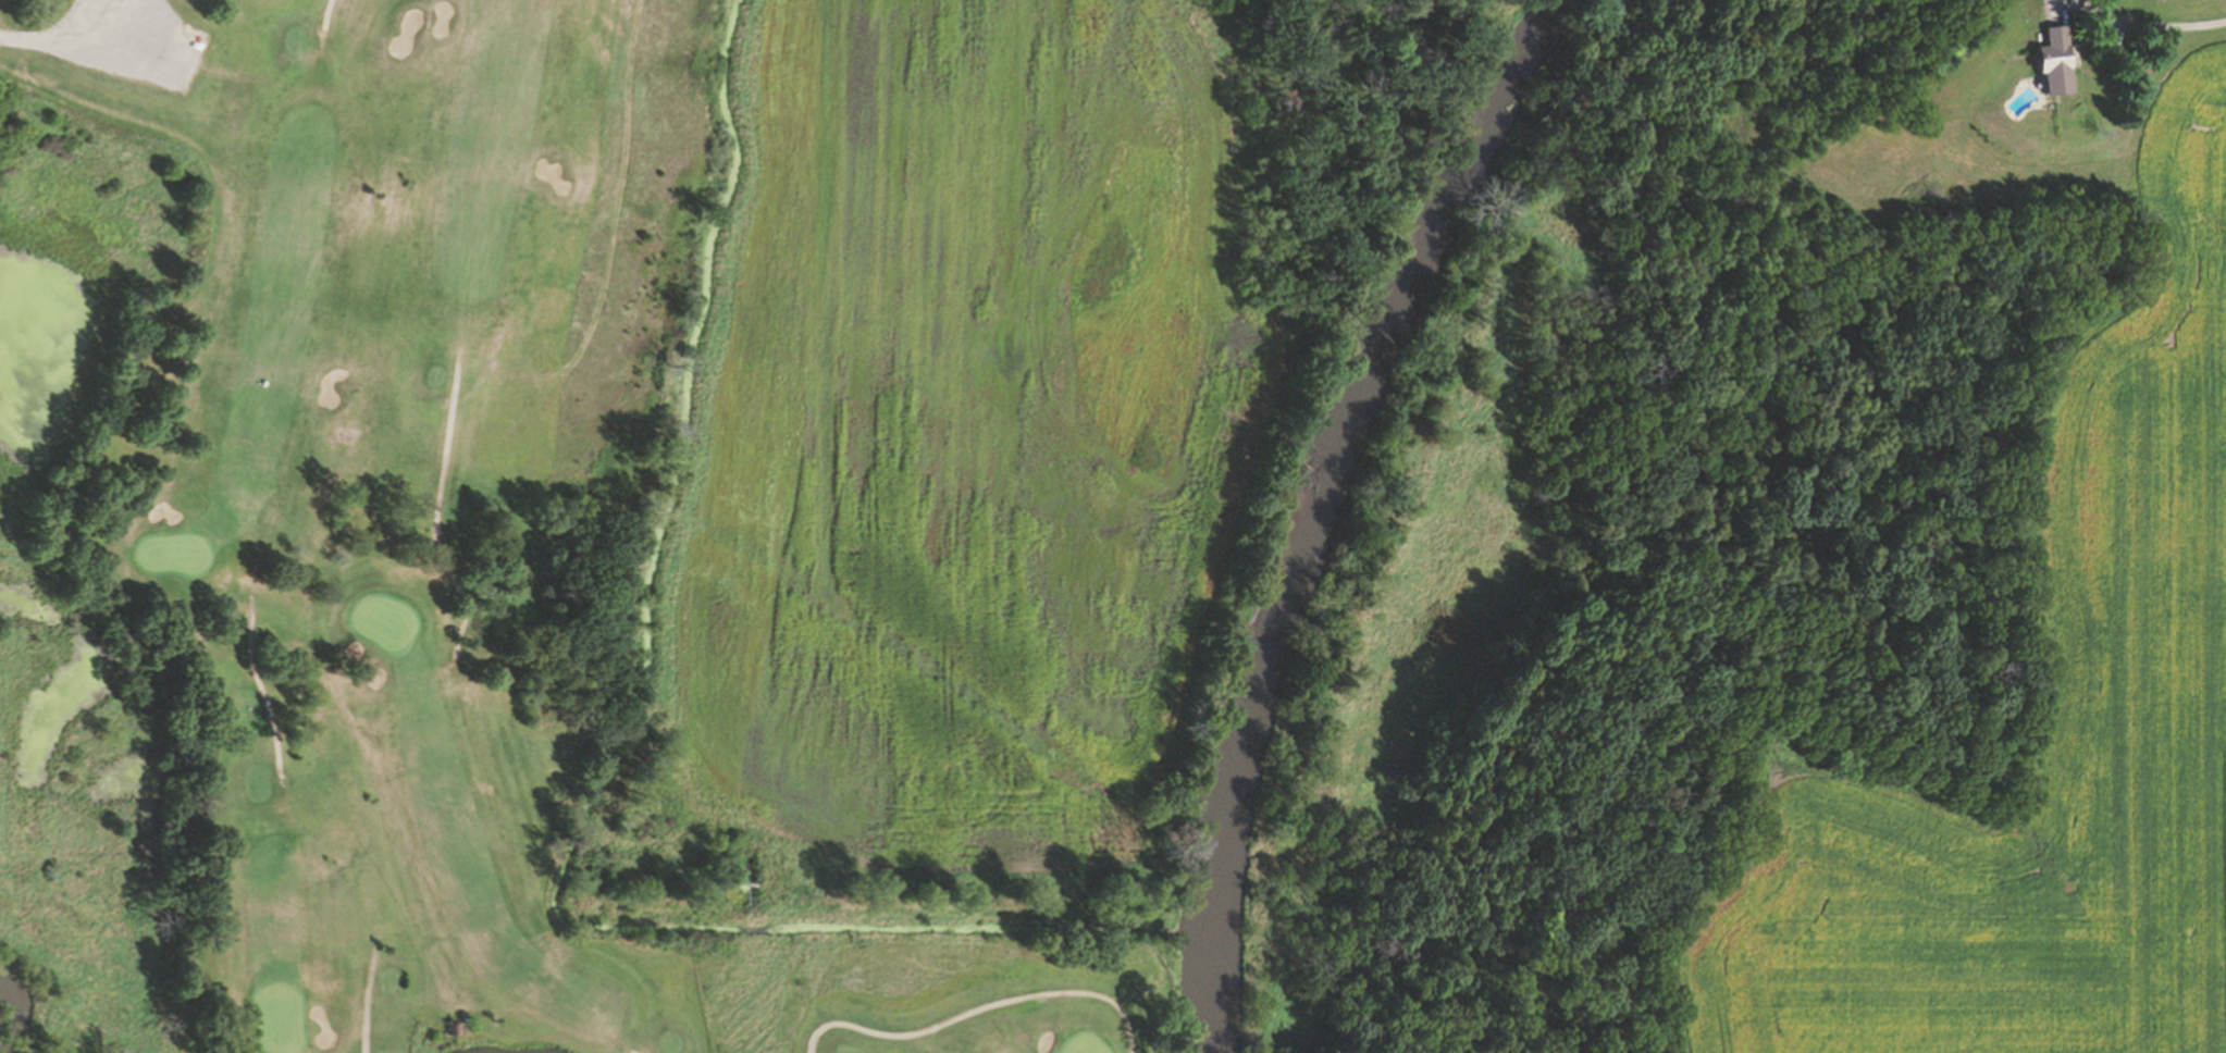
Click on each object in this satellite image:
road: (2168, 25)
road: (23, 38)
building: (128, 40)
building: (2045, 61)
park: (687, 484)
river: (1314, 499)
road: (438, 515)
park: (385, 621)
road: (261, 687)
road: (367, 1000)
road: (977, 1009)
park: (279, 1019)
building: (448, 1028)
river: (4, 1038)
park: (1079, 1044)
road: (622, 1051)

